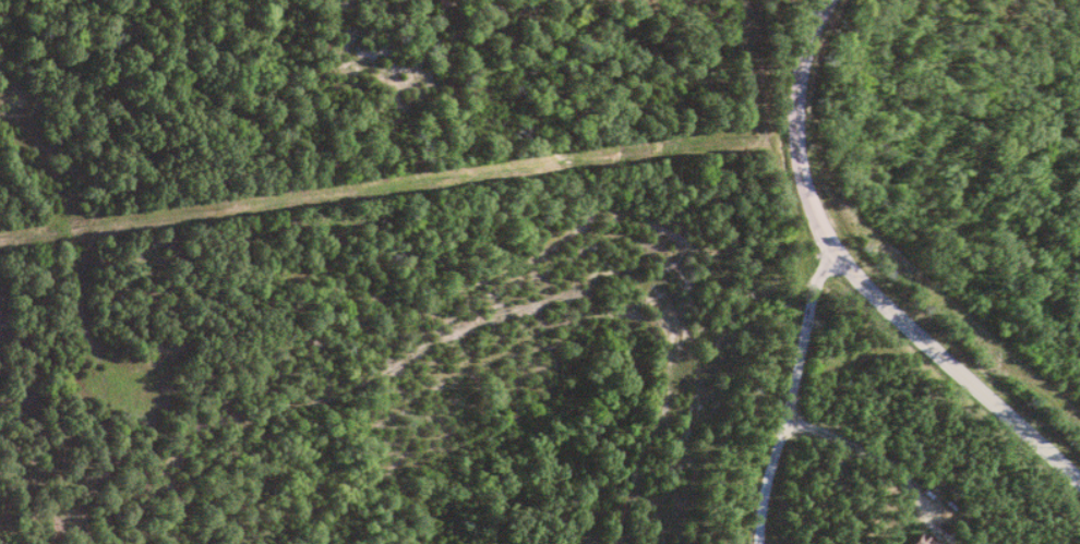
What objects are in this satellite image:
road: (857, 276)
road: (796, 392)
road: (875, 456)
building: (916, 541)

